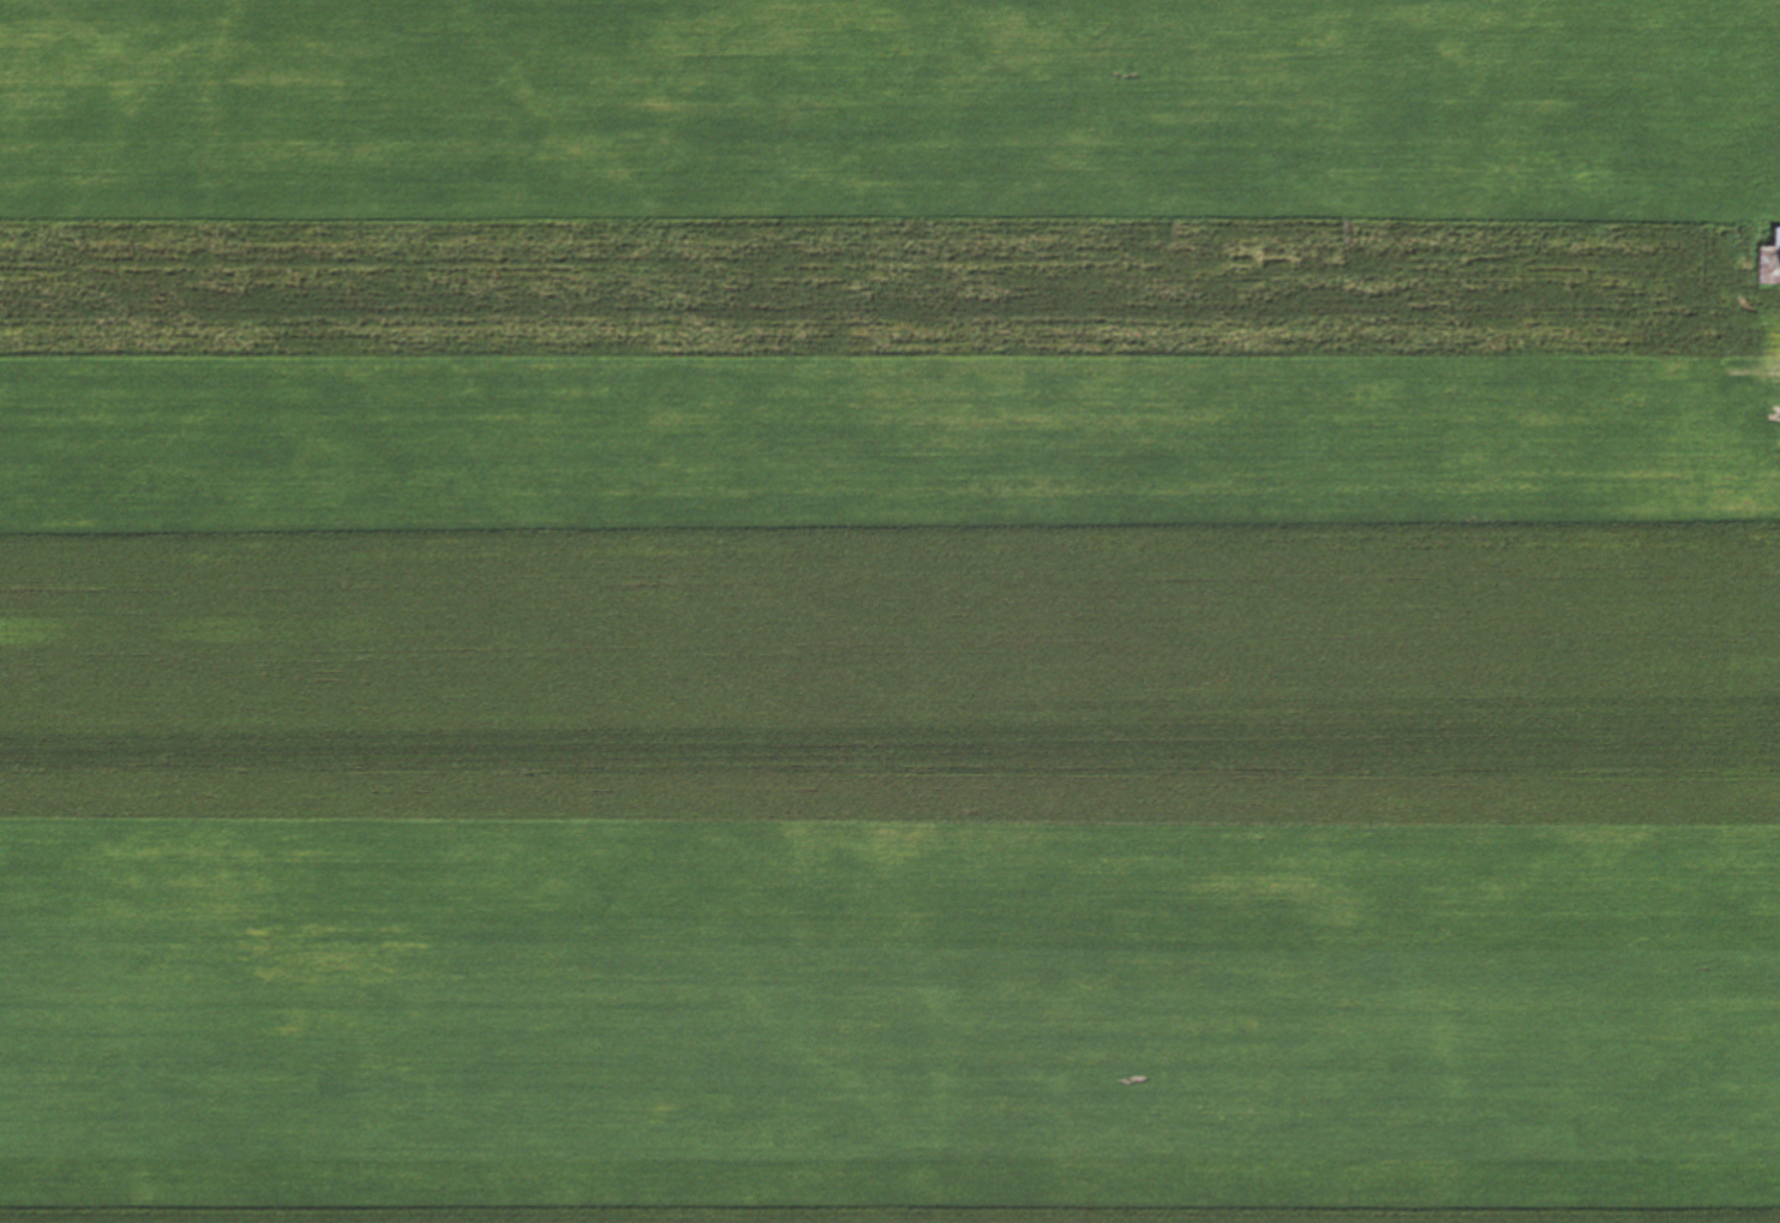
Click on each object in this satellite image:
building: (1778, 238)

